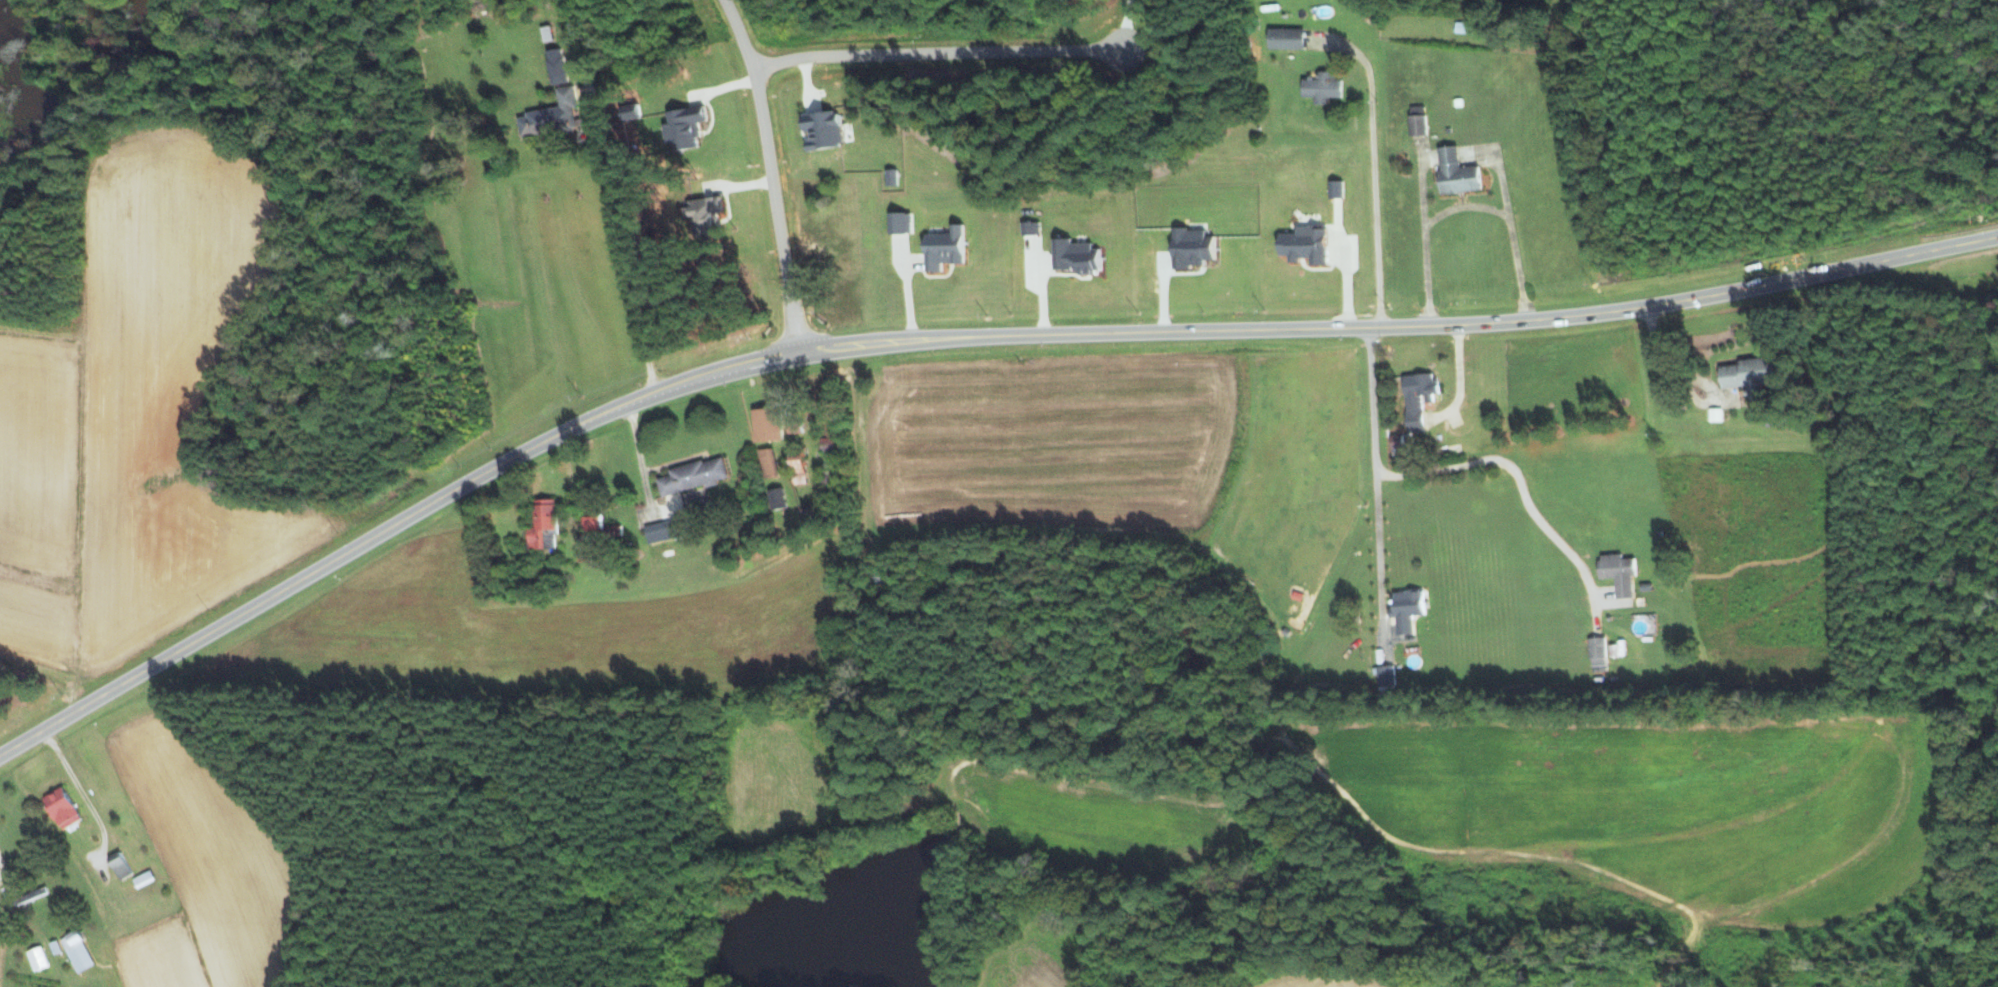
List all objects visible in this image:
building: (1461, 27)
building: (1284, 39)
road: (931, 56)
building: (555, 66)
building: (1320, 87)
building: (553, 118)
building: (1416, 120)
building: (683, 127)
building: (820, 130)
road: (1369, 169)
road: (765, 173)
building: (1455, 173)
building: (890, 177)
building: (1334, 189)
road: (1462, 209)
building: (702, 215)
building: (898, 223)
building: (1303, 245)
building: (1189, 248)
building: (942, 249)
road: (622, 251)
building: (1074, 257)
road: (952, 338)
building: (1748, 372)
building: (1416, 399)
building: (765, 425)
building: (826, 445)
building: (767, 463)
building: (797, 469)
building: (692, 476)
road: (1370, 477)
road: (1515, 480)
building: (776, 499)
building: (591, 524)
building: (542, 526)
building: (662, 531)
building: (612, 532)
building: (1617, 573)
building: (1405, 610)
building: (1596, 652)
building: (1385, 679)
road: (79, 791)
building: (59, 808)
building: (119, 867)
building: (142, 879)
building: (30, 895)
building: (76, 952)
building: (36, 958)

